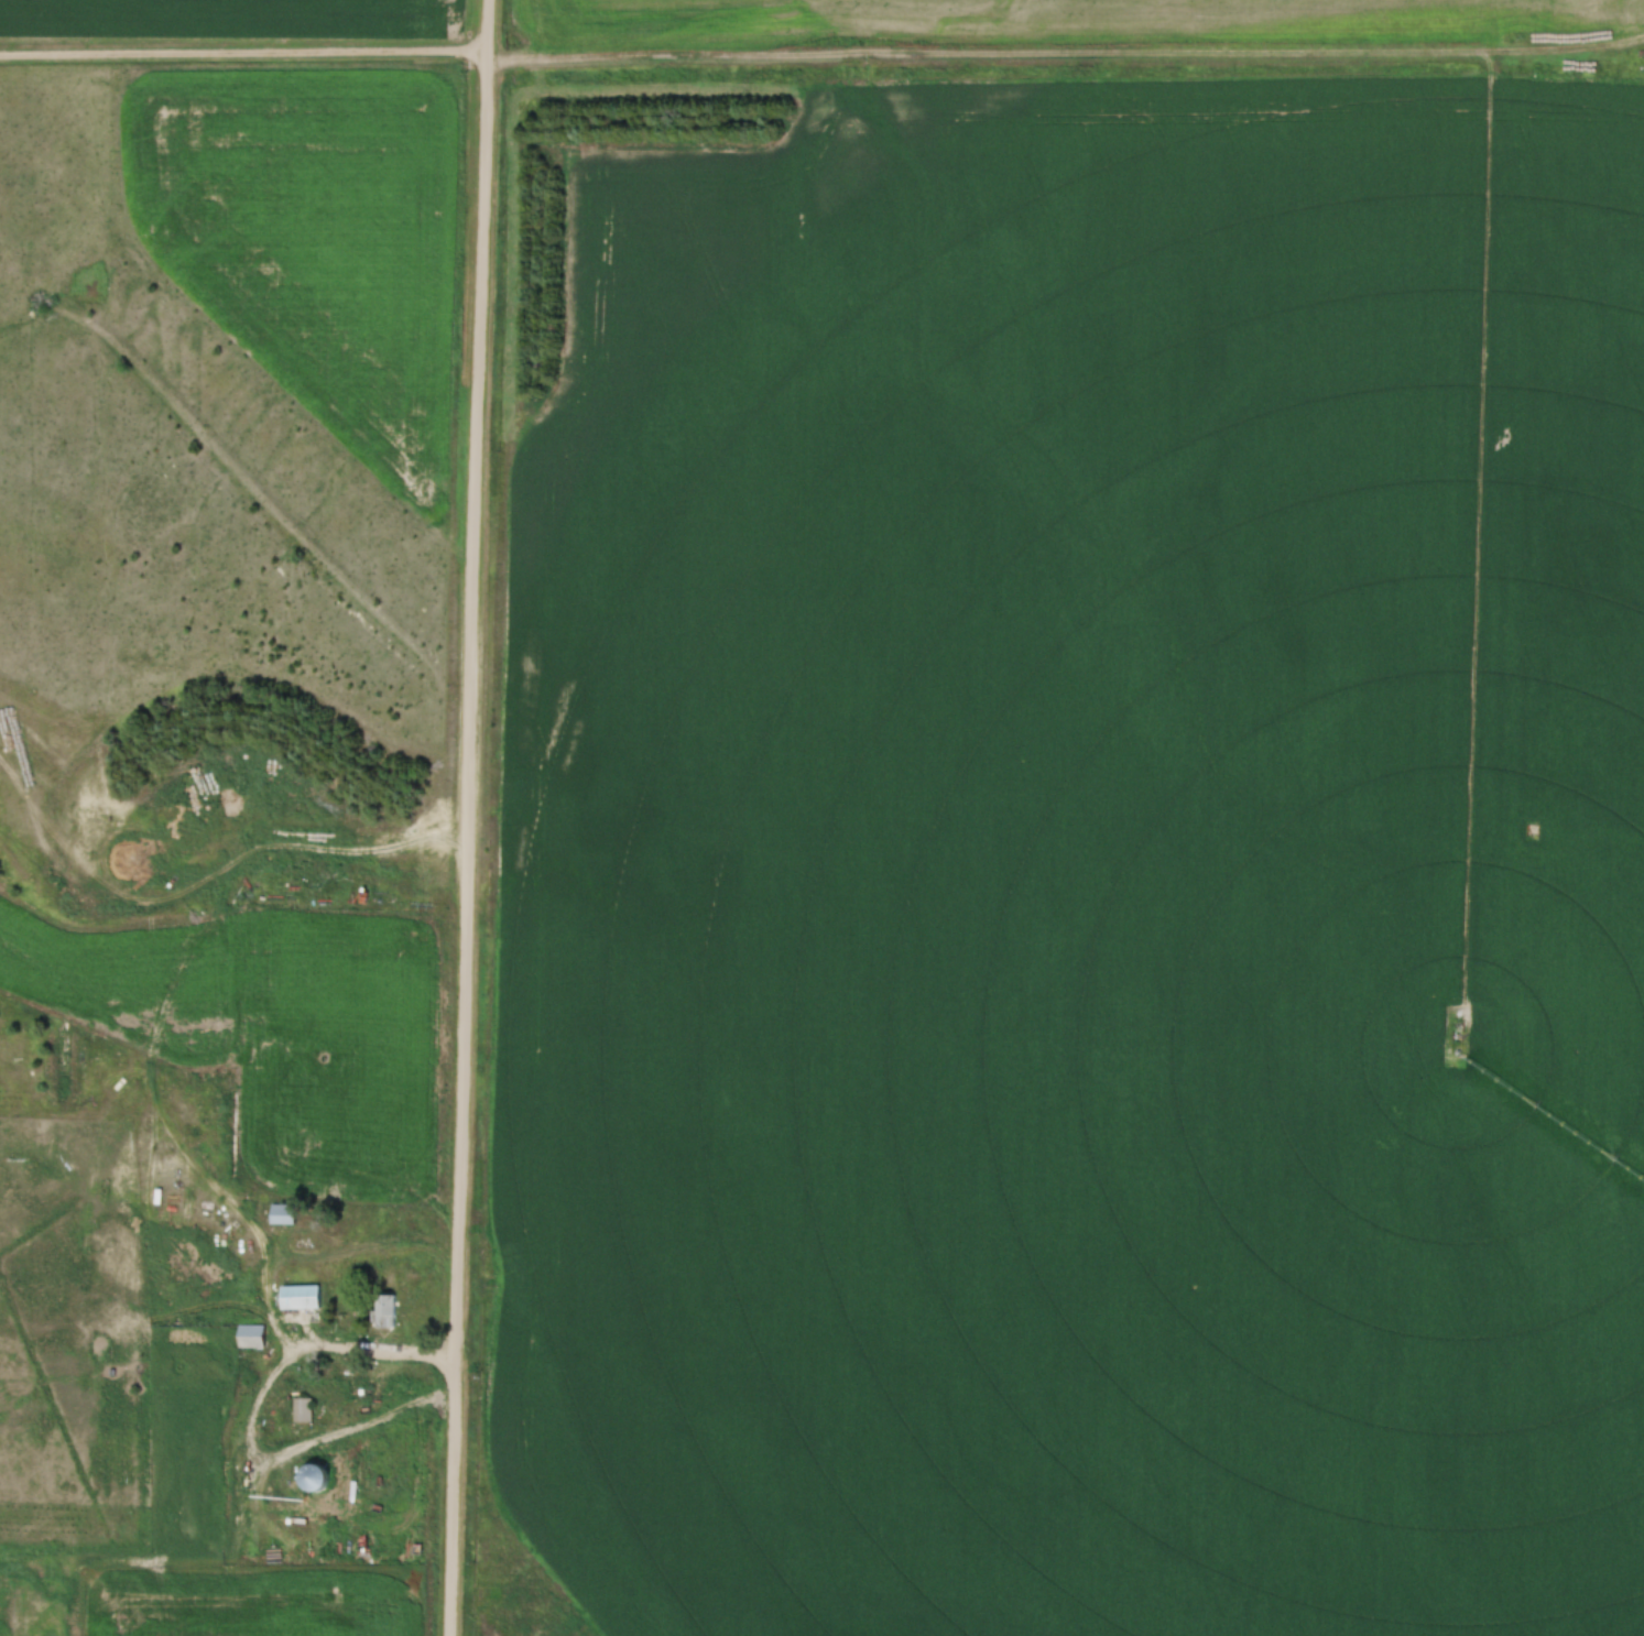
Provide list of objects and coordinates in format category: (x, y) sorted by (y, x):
road: (821, 54)
road: (469, 817)
road: (162, 1086)
building: (284, 1214)
building: (117, 1240)
building: (301, 1298)
building: (117, 1308)
building: (383, 1311)
building: (251, 1337)
building: (302, 1410)
building: (316, 1475)

